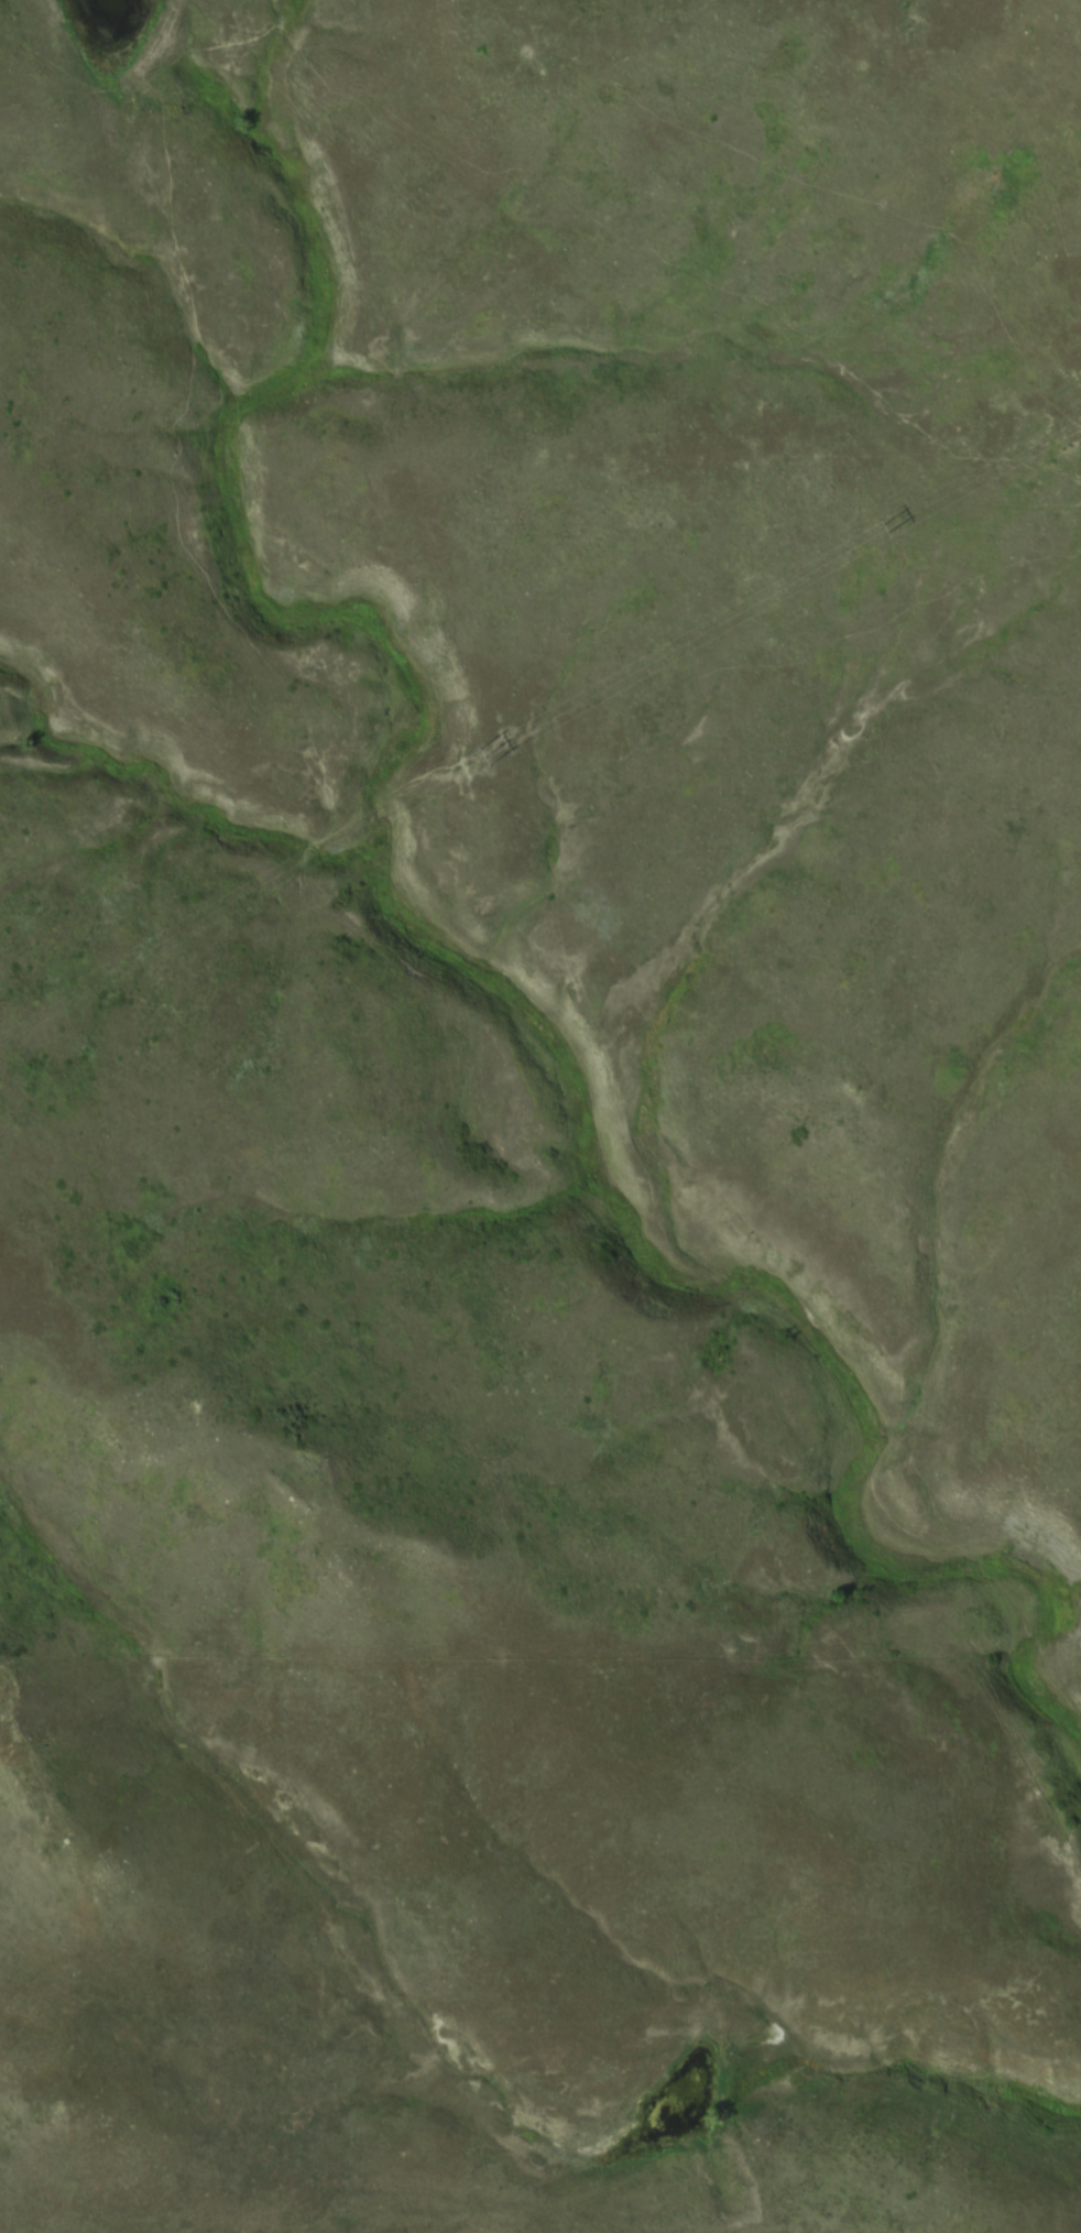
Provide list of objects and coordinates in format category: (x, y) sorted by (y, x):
power tower: (887, 531)
power tower: (483, 758)

